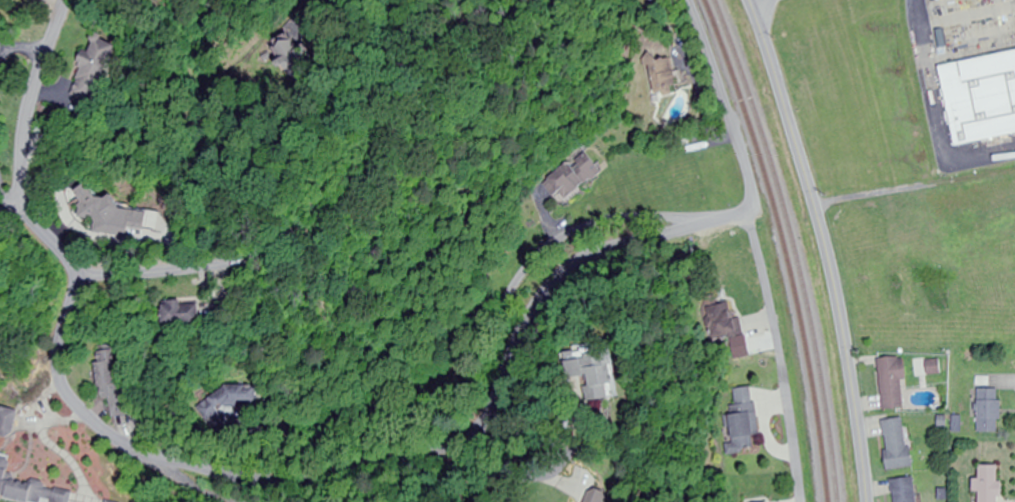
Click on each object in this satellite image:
building: (95, 69)
building: (669, 77)
road: (27, 100)
building: (983, 105)
building: (575, 177)
road: (13, 206)
building: (112, 216)
road: (58, 237)
road: (757, 244)
railway: (791, 244)
road: (824, 247)
road: (137, 275)
building: (190, 314)
building: (725, 320)
building: (610, 371)
building: (894, 382)
building: (116, 385)
building: (222, 405)
building: (991, 411)
building: (744, 421)
building: (898, 444)
road: (406, 459)
building: (992, 484)
road: (396, 485)
building: (31, 487)
road: (207, 488)
road: (567, 490)
building: (906, 490)
building: (612, 497)

